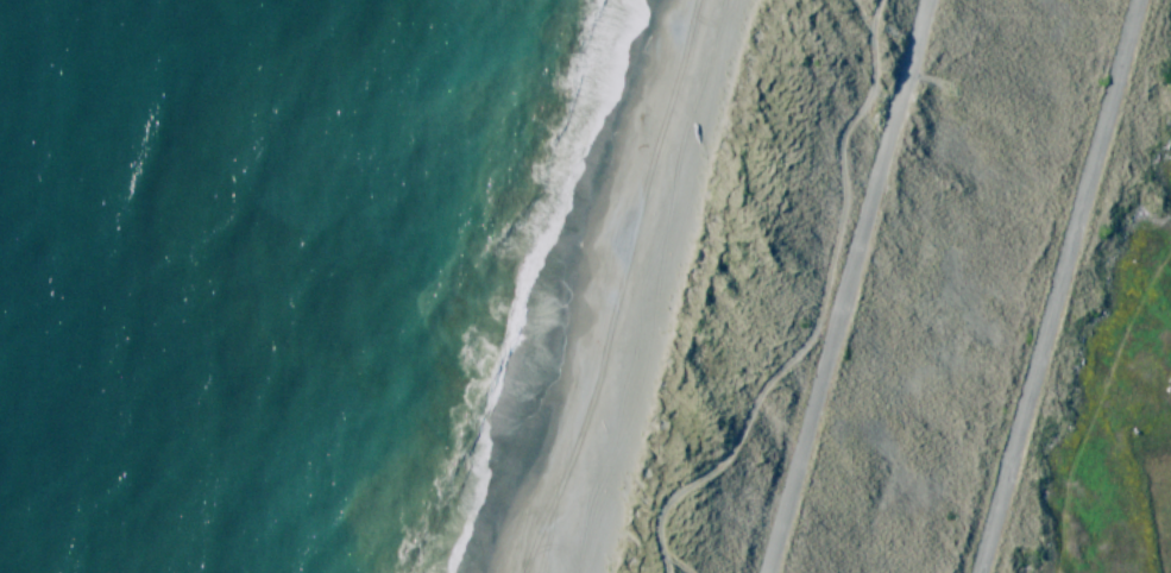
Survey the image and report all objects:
road: (851, 286)
road: (1063, 286)
road: (817, 310)

